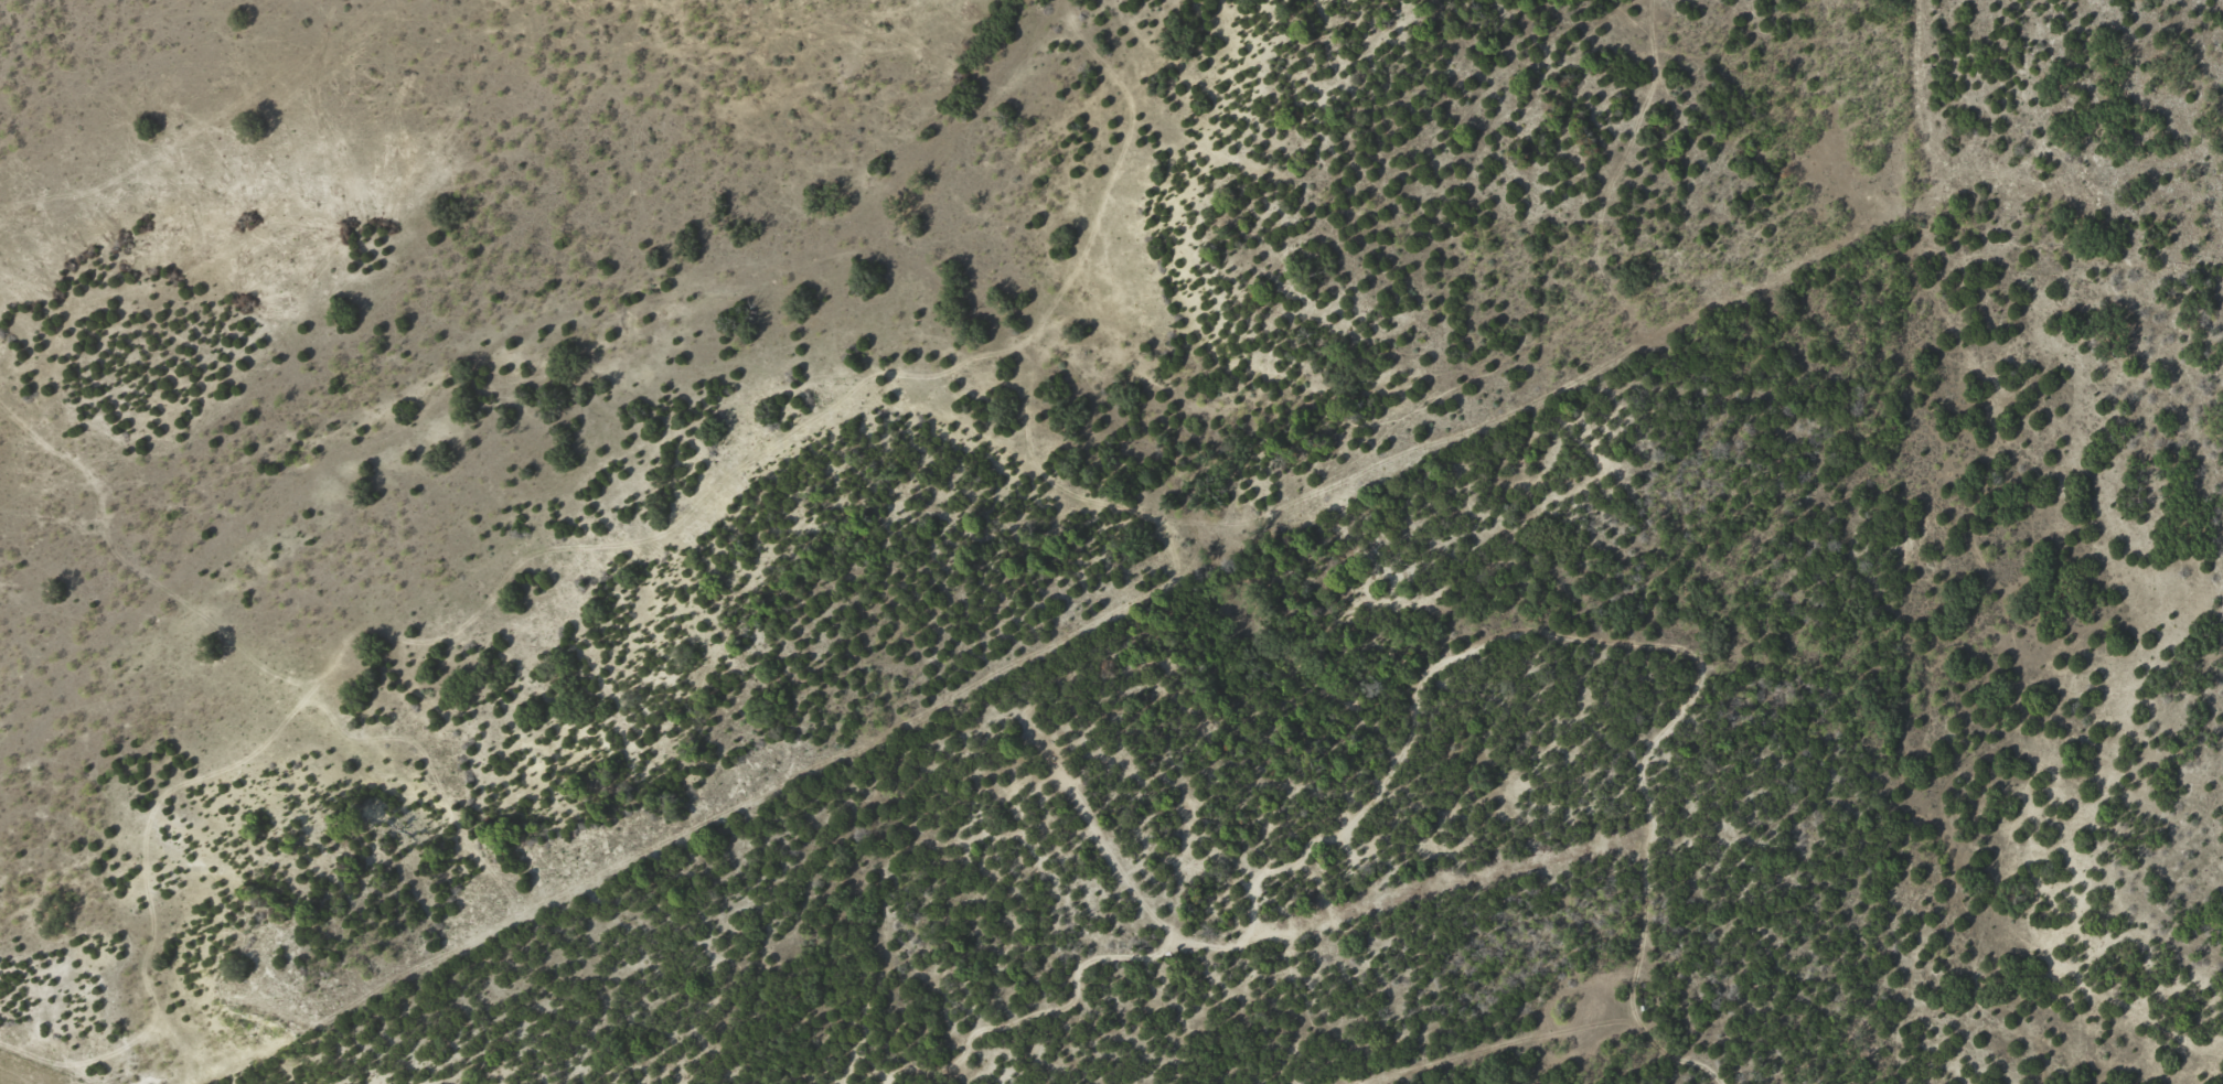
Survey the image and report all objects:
road: (2030, 506)
road: (2109, 684)

